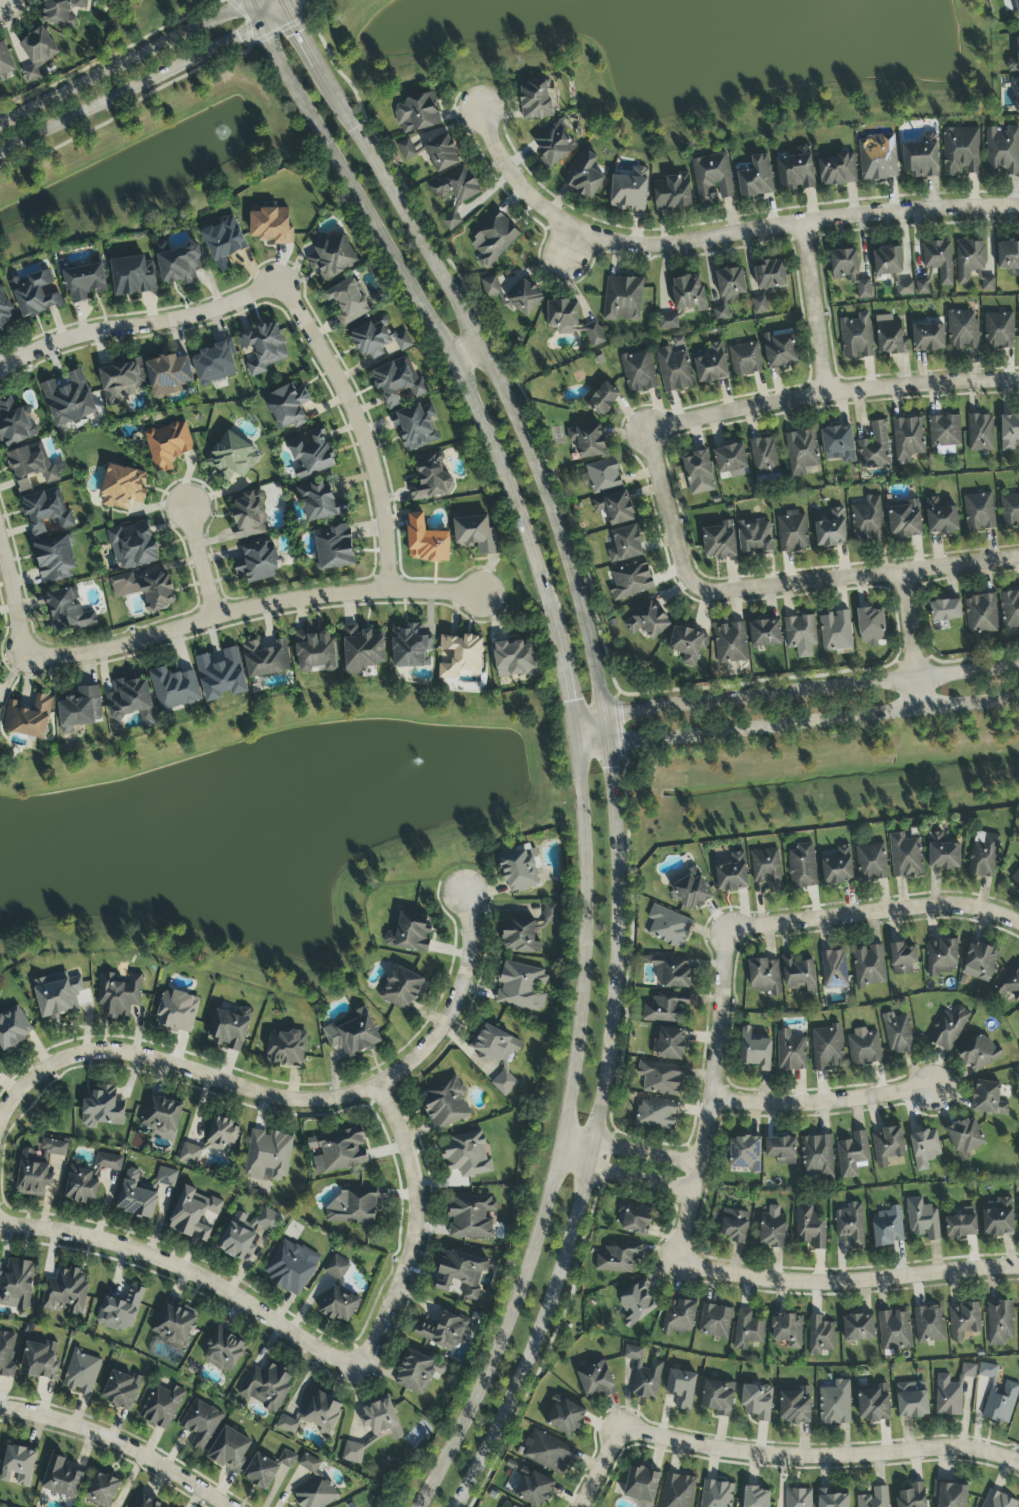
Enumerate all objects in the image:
road: (285, 0)
fountain: (720, 2)
building: (1012, 8)
building: (60, 10)
building: (37, 53)
road: (140, 58)
building: (1014, 60)
building: (5, 61)
road: (146, 81)
building: (0, 83)
building: (1017, 95)
building: (535, 100)
building: (417, 113)
fountain: (217, 135)
building: (554, 142)
building: (406, 150)
building: (961, 151)
building: (1002, 152)
building: (442, 154)
building: (877, 158)
building: (920, 160)
building: (837, 170)
building: (796, 172)
building: (585, 175)
building: (756, 178)
building: (712, 179)
building: (630, 191)
building: (673, 193)
building: (271, 225)
road: (718, 232)
building: (493, 238)
building: (227, 246)
road: (571, 246)
building: (1008, 256)
building: (331, 257)
building: (938, 260)
building: (969, 260)
building: (887, 261)
building: (843, 264)
building: (180, 266)
building: (771, 275)
building: (133, 276)
building: (86, 284)
building: (988, 285)
building: (922, 288)
building: (863, 289)
building: (904, 289)
building: (728, 290)
building: (689, 293)
building: (37, 295)
building: (514, 295)
building: (623, 299)
building: (347, 301)
building: (759, 305)
road: (817, 306)
building: (5, 313)
building: (562, 316)
building: (668, 323)
road: (138, 324)
building: (962, 331)
building: (998, 331)
building: (593, 335)
building: (1018, 335)
building: (856, 337)
building: (889, 337)
building: (371, 338)
building: (928, 338)
road: (476, 340)
building: (402, 341)
building: (262, 349)
building: (779, 349)
road: (465, 353)
building: (745, 359)
building: (215, 364)
building: (710, 364)
building: (674, 370)
building: (639, 372)
building: (169, 374)
building: (397, 382)
building: (125, 383)
road: (832, 395)
building: (69, 398)
building: (600, 399)
building: (290, 404)
building: (415, 426)
road: (360, 428)
building: (16, 429)
building: (944, 431)
building: (1009, 432)
building: (980, 433)
building: (907, 439)
building: (587, 441)
building: (838, 444)
building: (167, 445)
building: (875, 448)
building: (801, 452)
building: (309, 454)
building: (763, 456)
building: (233, 459)
building: (731, 460)
building: (32, 465)
building: (699, 473)
building: (603, 476)
building: (431, 478)
building: (124, 489)
building: (317, 502)
building: (614, 508)
road: (675, 510)
building: (1009, 510)
building: (47, 511)
building: (979, 512)
building: (248, 514)
building: (940, 518)
building: (867, 520)
building: (905, 521)
building: (831, 529)
building: (793, 532)
building: (475, 535)
building: (755, 537)
building: (425, 541)
building: (719, 542)
building: (133, 545)
building: (625, 545)
building: (334, 548)
building: (57, 558)
road: (204, 563)
building: (261, 563)
road: (860, 576)
road: (446, 580)
building: (631, 580)
road: (286, 588)
road: (15, 592)
building: (158, 592)
building: (68, 607)
road: (252, 609)
building: (945, 610)
building: (1009, 611)
building: (981, 615)
building: (648, 621)
building: (871, 626)
building: (835, 631)
building: (800, 632)
building: (765, 633)
road: (906, 638)
building: (730, 643)
building: (688, 644)
building: (410, 647)
building: (362, 649)
building: (314, 652)
building: (460, 656)
building: (265, 659)
building: (513, 660)
road: (809, 687)
building: (175, 689)
building: (131, 700)
building: (80, 710)
road: (585, 712)
building: (29, 718)
road: (796, 718)
road: (572, 732)
fountain: (439, 763)
building: (943, 853)
building: (983, 855)
building: (905, 857)
building: (871, 863)
building: (836, 866)
building: (802, 867)
building: (767, 868)
building: (520, 871)
building: (732, 874)
building: (1015, 882)
building: (690, 889)
road: (876, 912)
building: (550, 913)
building: (668, 927)
building: (409, 933)
building: (519, 937)
building: (942, 957)
building: (903, 959)
building: (980, 963)
building: (869, 967)
building: (833, 970)
building: (672, 973)
building: (798, 975)
building: (765, 977)
building: (1011, 983)
building: (402, 988)
building: (522, 988)
building: (119, 994)
building: (57, 996)
building: (666, 1008)
building: (177, 1011)
building: (1018, 1012)
building: (13, 1028)
building: (948, 1028)
building: (230, 1029)
building: (353, 1034)
building: (897, 1034)
building: (669, 1044)
building: (826, 1047)
building: (286, 1048)
building: (864, 1048)
building: (755, 1051)
building: (791, 1051)
building: (496, 1053)
building: (979, 1054)
building: (660, 1078)
road: (288, 1096)
road: (717, 1097)
building: (988, 1099)
building: (445, 1103)
road: (826, 1108)
building: (103, 1109)
building: (655, 1114)
building: (161, 1117)
road: (602, 1121)
building: (222, 1135)
building: (966, 1138)
building: (888, 1146)
road: (633, 1147)
building: (924, 1148)
building: (781, 1150)
building: (341, 1151)
building: (745, 1154)
building: (190, 1155)
building: (467, 1155)
building: (853, 1155)
building: (268, 1156)
building: (817, 1156)
building: (38, 1168)
road: (626, 1176)
building: (89, 1178)
building: (142, 1192)
building: (1018, 1205)
building: (353, 1206)
building: (193, 1214)
building: (471, 1217)
building: (634, 1218)
building: (998, 1218)
building: (922, 1219)
building: (961, 1224)
building: (850, 1225)
building: (734, 1226)
building: (810, 1227)
building: (887, 1227)
building: (772, 1229)
road: (418, 1231)
building: (245, 1233)
building: (618, 1258)
building: (291, 1267)
building: (337, 1267)
road: (190, 1270)
building: (461, 1273)
road: (848, 1286)
building: (65, 1291)
building: (636, 1303)
building: (339, 1305)
building: (120, 1310)
building: (678, 1317)
building: (714, 1321)
building: (964, 1321)
building: (1000, 1323)
building: (929, 1324)
building: (173, 1325)
building: (858, 1327)
building: (747, 1330)
building: (787, 1330)
building: (895, 1330)
building: (443, 1331)
building: (820, 1336)
building: (224, 1350)
building: (7, 1355)
building: (40, 1360)
building: (81, 1373)
building: (643, 1374)
building: (596, 1380)
building: (267, 1386)
building: (681, 1388)
building: (121, 1390)
building: (951, 1392)
building: (998, 1396)
building: (718, 1397)
building: (912, 1400)
building: (757, 1402)
building: (835, 1404)
building: (874, 1404)
building: (162, 1406)
building: (795, 1406)
building: (323, 1413)
building: (564, 1417)
building: (382, 1419)
building: (201, 1424)
building: (287, 1425)
road: (120, 1442)
building: (230, 1450)
building: (547, 1452)
building: (353, 1453)
building: (287, 1460)
road: (821, 1460)
building: (310, 1464)
building: (18, 1465)
road: (603, 1469)
building: (261, 1472)
building: (63, 1478)
building: (641, 1486)
building: (532, 1488)
building: (102, 1490)
building: (677, 1491)
building: (316, 1494)
building: (716, 1494)
building: (950, 1494)
building: (755, 1497)
building: (912, 1497)
building: (798, 1498)
building: (874, 1498)
building: (832, 1499)
building: (997, 1500)
building: (144, 1501)
building: (508, 1505)

